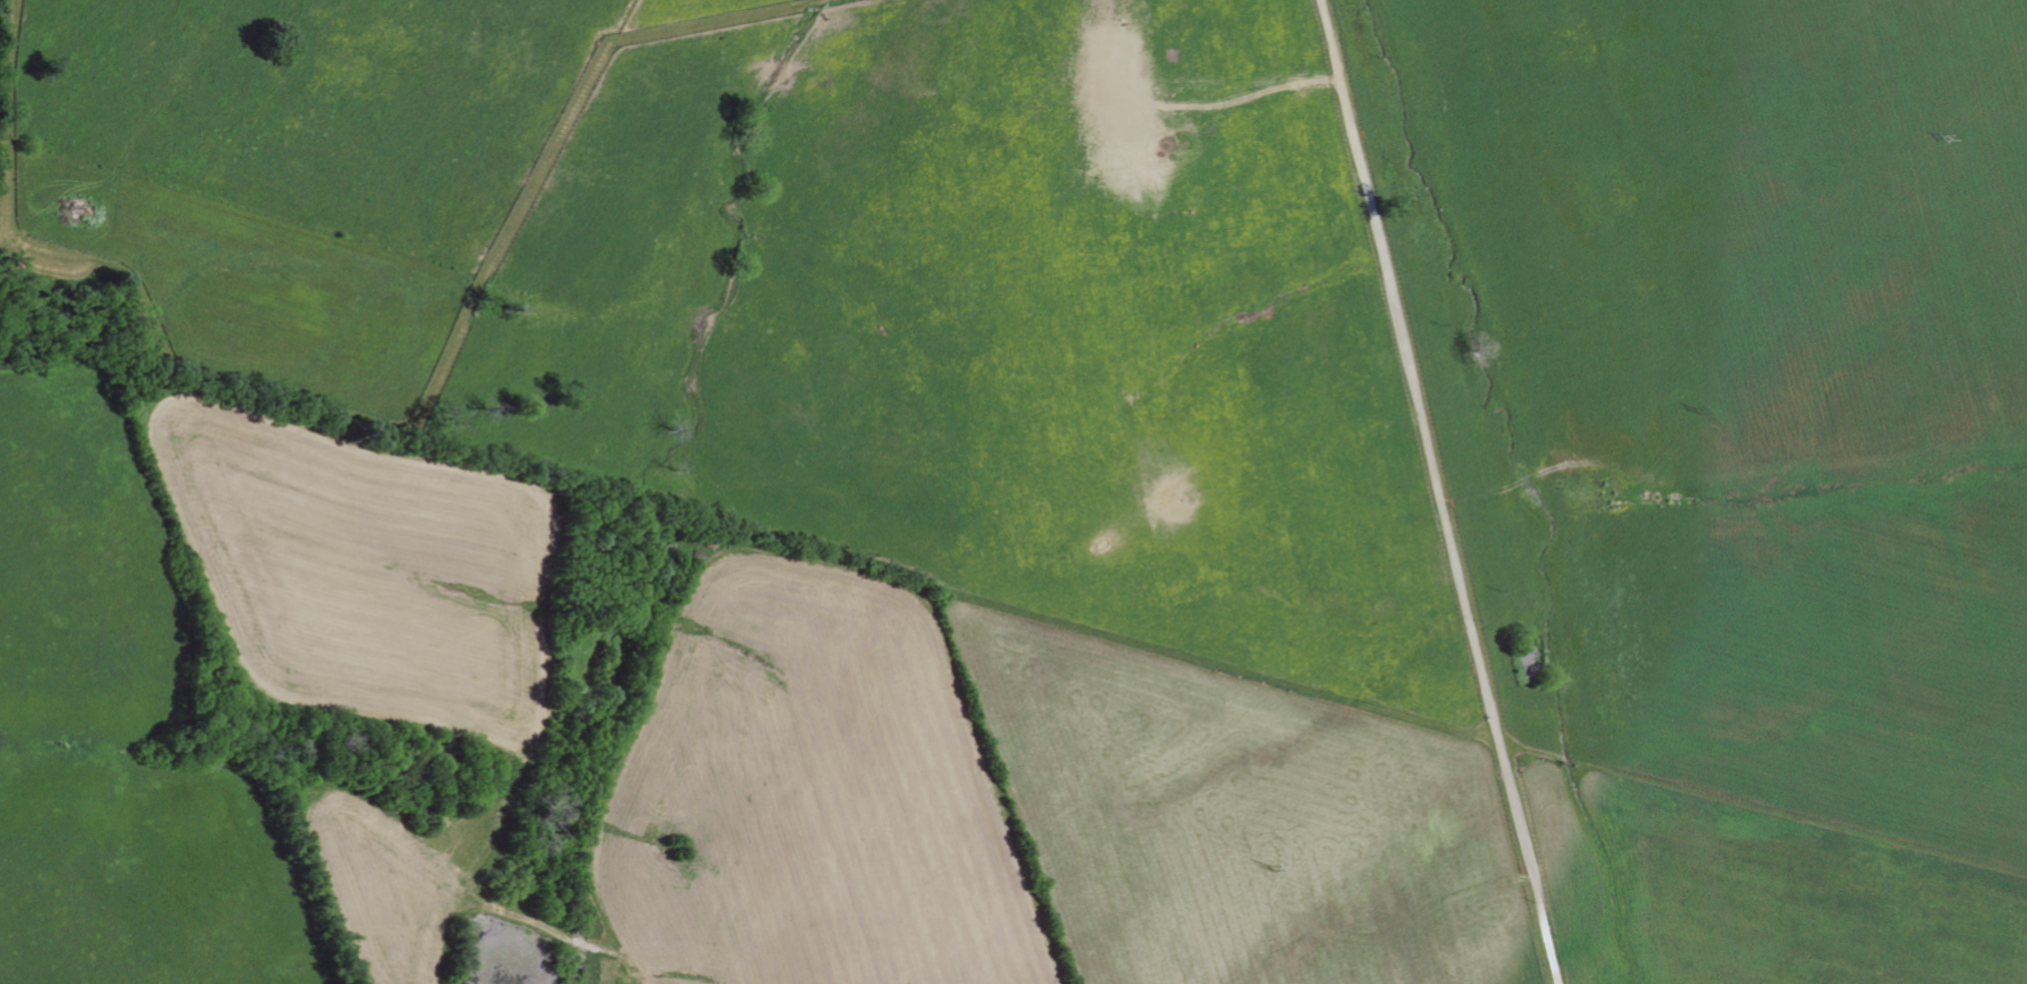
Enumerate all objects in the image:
road: (1438, 492)

